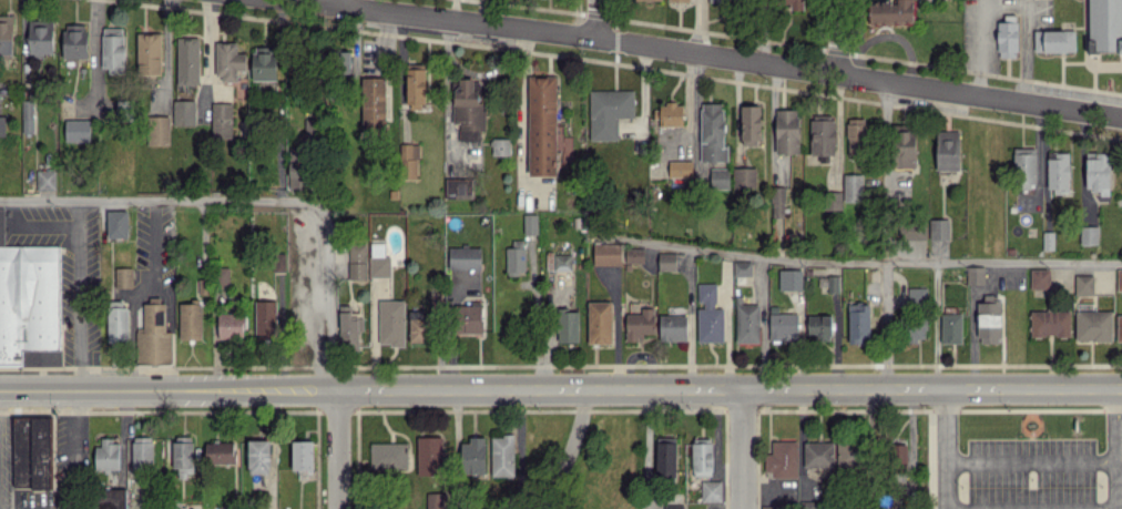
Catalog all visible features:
building: (651, 0)
building: (677, 0)
building: (723, 0)
road: (340, 1)
building: (793, 3)
building: (891, 12)
road: (599, 17)
road: (697, 24)
building: (1104, 26)
road: (1026, 27)
building: (6, 34)
building: (1007, 35)
building: (41, 37)
road: (836, 37)
building: (74, 40)
building: (1054, 40)
road: (981, 47)
building: (113, 49)
road: (717, 52)
building: (147, 53)
building: (227, 60)
building: (187, 61)
building: (263, 63)
building: (341, 63)
building: (415, 86)
building: (373, 103)
building: (468, 108)
building: (182, 112)
building: (608, 112)
building: (669, 114)
building: (28, 116)
building: (221, 120)
building: (751, 124)
building: (2, 125)
building: (541, 125)
building: (78, 130)
building: (159, 130)
building: (786, 131)
building: (712, 132)
building: (857, 134)
building: (822, 136)
building: (500, 146)
building: (905, 149)
building: (947, 150)
building: (408, 161)
building: (296, 167)
building: (1024, 167)
building: (680, 169)
building: (1058, 172)
building: (1098, 173)
building: (744, 176)
building: (718, 177)
building: (45, 180)
building: (458, 185)
building: (851, 187)
road: (155, 200)
building: (777, 202)
building: (529, 223)
building: (118, 224)
road: (45, 225)
building: (938, 228)
building: (911, 231)
road: (886, 233)
building: (1089, 235)
road: (153, 241)
building: (606, 254)
building: (633, 255)
building: (463, 257)
building: (356, 261)
building: (378, 261)
building: (514, 261)
building: (666, 261)
building: (558, 262)
road: (860, 262)
building: (742, 268)
building: (975, 275)
building: (122, 276)
building: (223, 277)
building: (1039, 278)
building: (789, 279)
building: (1119, 279)
building: (833, 283)
building: (1083, 285)
road: (312, 294)
road: (75, 295)
building: (917, 295)
building: (29, 304)
building: (708, 314)
building: (469, 317)
building: (265, 319)
building: (989, 319)
road: (759, 320)
building: (188, 322)
building: (390, 322)
building: (599, 322)
building: (746, 323)
building: (858, 323)
road: (931, 323)
building: (1049, 323)
building: (116, 324)
building: (640, 324)
building: (229, 325)
building: (783, 325)
building: (1093, 325)
building: (418, 326)
building: (567, 326)
building: (818, 326)
building: (348, 327)
building: (672, 327)
building: (950, 327)
building: (1119, 327)
building: (915, 329)
building: (153, 336)
road: (728, 386)
road: (167, 389)
road: (741, 447)
road: (947, 447)
road: (1116, 447)
road: (570, 448)
road: (337, 449)
road: (61, 450)
building: (32, 451)
building: (141, 451)
building: (217, 451)
building: (818, 454)
building: (108, 455)
building: (181, 455)
building: (300, 455)
building: (429, 455)
building: (502, 455)
building: (850, 455)
building: (257, 456)
building: (388, 456)
building: (473, 456)
road: (1031, 457)
building: (664, 458)
building: (899, 458)
building: (701, 459)
building: (782, 459)
building: (711, 490)
building: (108, 498)
building: (436, 500)
building: (175, 503)
building: (808, 505)
building: (673, 506)
building: (771, 507)
road: (1031, 507)

